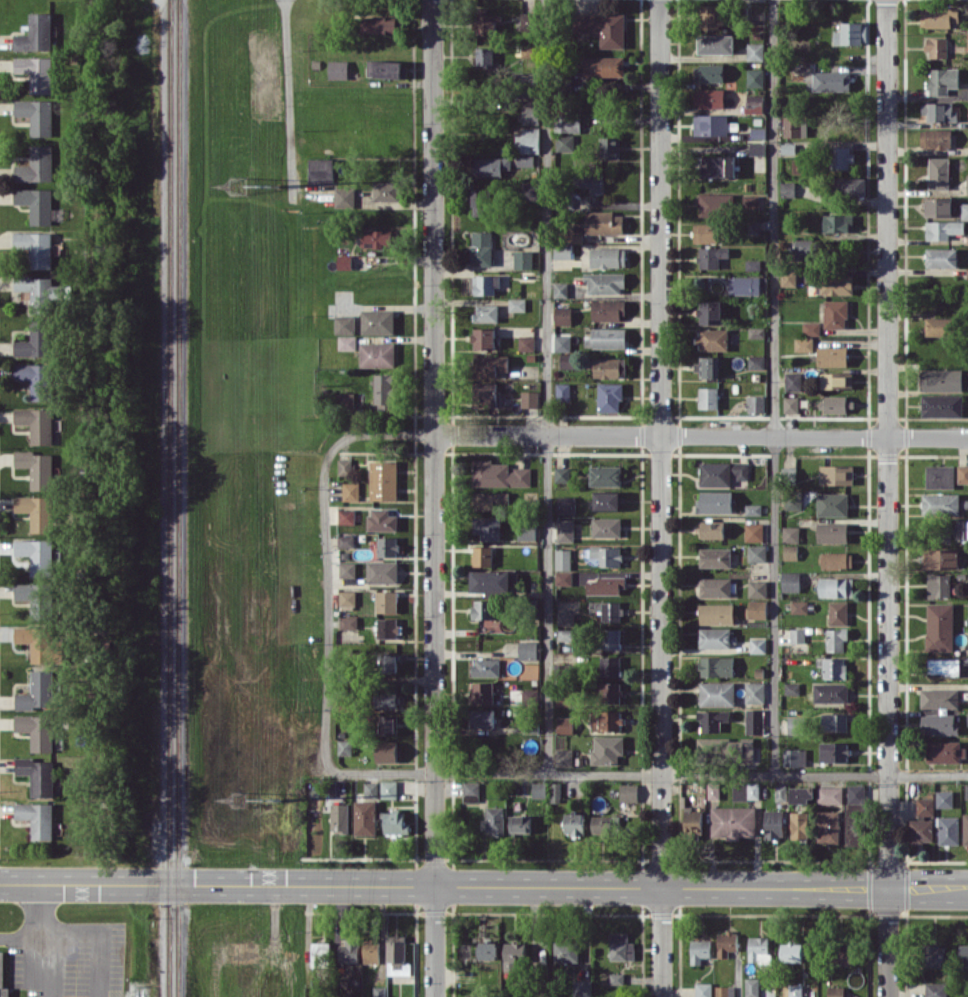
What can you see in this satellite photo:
building: (711, 16)
building: (939, 17)
building: (528, 21)
building: (487, 23)
building: (380, 25)
building: (603, 27)
building: (851, 33)
building: (35, 34)
building: (967, 37)
building: (716, 43)
building: (937, 46)
building: (530, 51)
building: (755, 51)
building: (485, 55)
building: (604, 66)
building: (387, 68)
building: (338, 69)
building: (36, 72)
building: (708, 72)
building: (755, 77)
building: (942, 80)
building: (830, 81)
building: (530, 83)
building: (709, 98)
road: (288, 101)
building: (754, 103)
building: (531, 111)
building: (939, 112)
building: (36, 115)
building: (568, 123)
building: (711, 124)
building: (792, 125)
building: (935, 138)
building: (528, 140)
building: (565, 142)
building: (609, 147)
building: (757, 148)
building: (841, 157)
building: (525, 160)
building: (36, 165)
building: (718, 165)
building: (491, 166)
building: (321, 171)
building: (938, 173)
building: (589, 181)
power tower: (241, 183)
power tower: (276, 183)
building: (967, 184)
building: (848, 186)
building: (787, 189)
building: (386, 190)
building: (530, 190)
building: (344, 197)
building: (480, 202)
building: (36, 203)
building: (710, 204)
building: (938, 206)
building: (964, 210)
building: (603, 222)
building: (837, 223)
building: (754, 227)
building: (944, 229)
building: (574, 233)
building: (708, 233)
building: (377, 238)
building: (36, 247)
building: (481, 248)
building: (805, 248)
building: (563, 251)
building: (712, 256)
building: (608, 257)
building: (941, 257)
building: (523, 259)
building: (344, 261)
building: (752, 264)
building: (967, 272)
building: (789, 277)
building: (605, 283)
building: (836, 283)
building: (485, 284)
building: (744, 285)
building: (560, 289)
building: (40, 292)
building: (517, 304)
building: (609, 310)
building: (710, 312)
building: (486, 313)
building: (835, 313)
building: (563, 315)
building: (377, 321)
building: (344, 324)
building: (939, 326)
building: (811, 328)
building: (756, 332)
building: (483, 337)
building: (606, 337)
building: (713, 339)
building: (35, 340)
building: (347, 342)
building: (526, 343)
building: (803, 344)
building: (377, 354)
building: (832, 356)
building: (567, 360)
building: (756, 361)
building: (490, 365)
building: (707, 366)
building: (609, 367)
building: (36, 379)
building: (942, 379)
building: (837, 380)
building: (793, 381)
road: (546, 385)
road: (773, 386)
building: (383, 392)
building: (563, 392)
building: (484, 393)
building: (609, 397)
building: (708, 398)
building: (530, 399)
building: (345, 400)
building: (755, 403)
building: (791, 404)
building: (837, 404)
building: (942, 405)
building: (36, 423)
road: (700, 435)
road: (661, 443)
road: (887, 444)
building: (344, 466)
building: (36, 468)
building: (722, 472)
building: (962, 473)
building: (499, 474)
building: (562, 474)
building: (836, 474)
building: (605, 475)
building: (940, 476)
building: (383, 479)
building: (350, 491)
railway: (169, 498)
railway: (178, 498)
road: (433, 498)
building: (489, 499)
building: (607, 500)
building: (715, 501)
building: (793, 502)
building: (940, 503)
building: (832, 504)
building: (566, 505)
building: (753, 509)
building: (36, 511)
building: (346, 516)
building: (382, 519)
building: (487, 527)
building: (606, 527)
building: (961, 528)
building: (712, 529)
building: (565, 530)
building: (527, 532)
building: (754, 532)
building: (832, 532)
building: (790, 534)
building: (345, 540)
building: (387, 546)
building: (790, 551)
building: (757, 553)
building: (36, 555)
building: (482, 555)
building: (607, 555)
building: (715, 557)
building: (562, 559)
building: (941, 559)
building: (836, 560)
building: (347, 569)
building: (382, 571)
building: (563, 577)
building: (490, 581)
building: (790, 581)
building: (605, 585)
building: (938, 585)
building: (715, 587)
building: (836, 587)
building: (757, 588)
building: (347, 597)
building: (36, 598)
building: (386, 601)
building: (596, 605)
building: (799, 606)
building: (483, 608)
building: (757, 608)
building: (612, 611)
building: (717, 613)
building: (838, 613)
building: (565, 617)
building: (939, 626)
building: (348, 627)
building: (388, 628)
building: (566, 634)
building: (797, 635)
building: (716, 637)
building: (610, 638)
building: (836, 639)
building: (37, 642)
building: (757, 645)
building: (528, 649)
building: (389, 662)
building: (610, 665)
building: (716, 666)
building: (942, 666)
building: (486, 667)
building: (835, 668)
building: (792, 688)
building: (37, 691)
building: (482, 692)
building: (611, 692)
building: (754, 692)
building: (830, 692)
building: (717, 693)
building: (529, 694)
building: (939, 697)
building: (386, 699)
building: (565, 700)
building: (483, 717)
building: (712, 719)
building: (606, 720)
building: (754, 721)
building: (834, 721)
building: (940, 723)
building: (387, 724)
building: (565, 724)
building: (793, 724)
building: (37, 730)
building: (724, 745)
building: (345, 747)
building: (607, 748)
building: (387, 751)
building: (834, 751)
building: (945, 751)
building: (564, 757)
building: (794, 757)
road: (435, 772)
building: (37, 775)
building: (389, 789)
building: (539, 789)
building: (370, 790)
building: (471, 791)
building: (555, 791)
building: (746, 791)
building: (966, 791)
building: (628, 792)
building: (780, 792)
building: (855, 793)
building: (801, 794)
building: (829, 795)
power tower: (278, 797)
power tower: (241, 798)
building: (944, 798)
building: (925, 806)
building: (340, 817)
building: (365, 817)
building: (37, 818)
building: (495, 820)
building: (693, 820)
building: (395, 821)
building: (732, 821)
building: (520, 823)
building: (574, 823)
building: (774, 823)
building: (602, 824)
building: (799, 825)
building: (829, 826)
building: (854, 828)
building: (965, 828)
building: (948, 829)
building: (920, 830)
road: (483, 885)
road: (307, 926)
road: (41, 931)
road: (71, 936)
road: (661, 942)
road: (888, 942)
building: (726, 943)
building: (621, 946)
building: (758, 949)
building: (320, 950)
building: (488, 950)
building: (699, 950)
building: (348, 951)
building: (371, 951)
building: (566, 951)
building: (791, 952)
building: (841, 955)
building: (935, 955)
building: (514, 956)
building: (963, 956)
building: (616, 978)
building: (751, 987)
building: (582, 988)
building: (703, 989)
building: (935, 989)
building: (795, 990)
building: (378, 991)
building: (724, 991)
building: (835, 991)
building: (473, 995)

